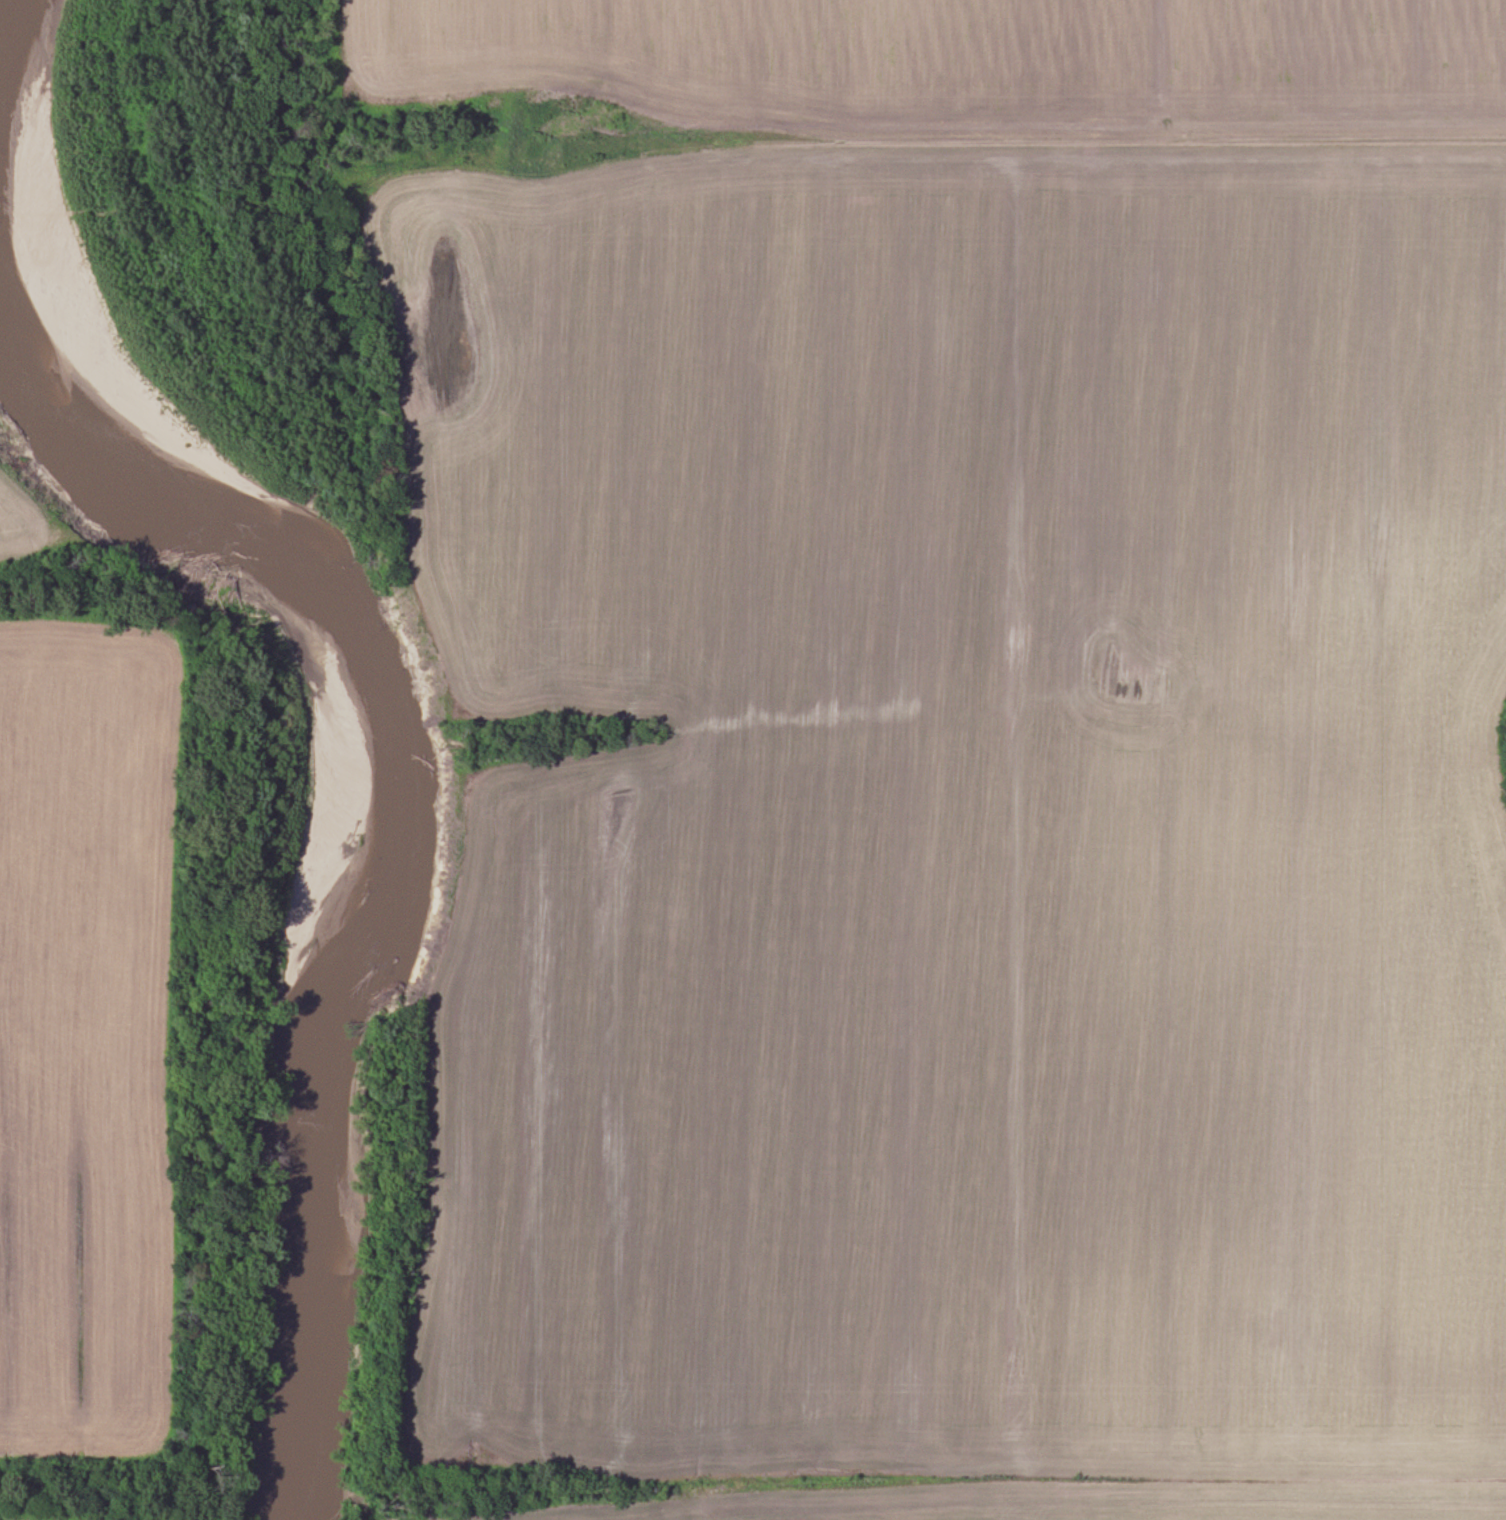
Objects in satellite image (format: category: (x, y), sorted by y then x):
river: (337, 806)

